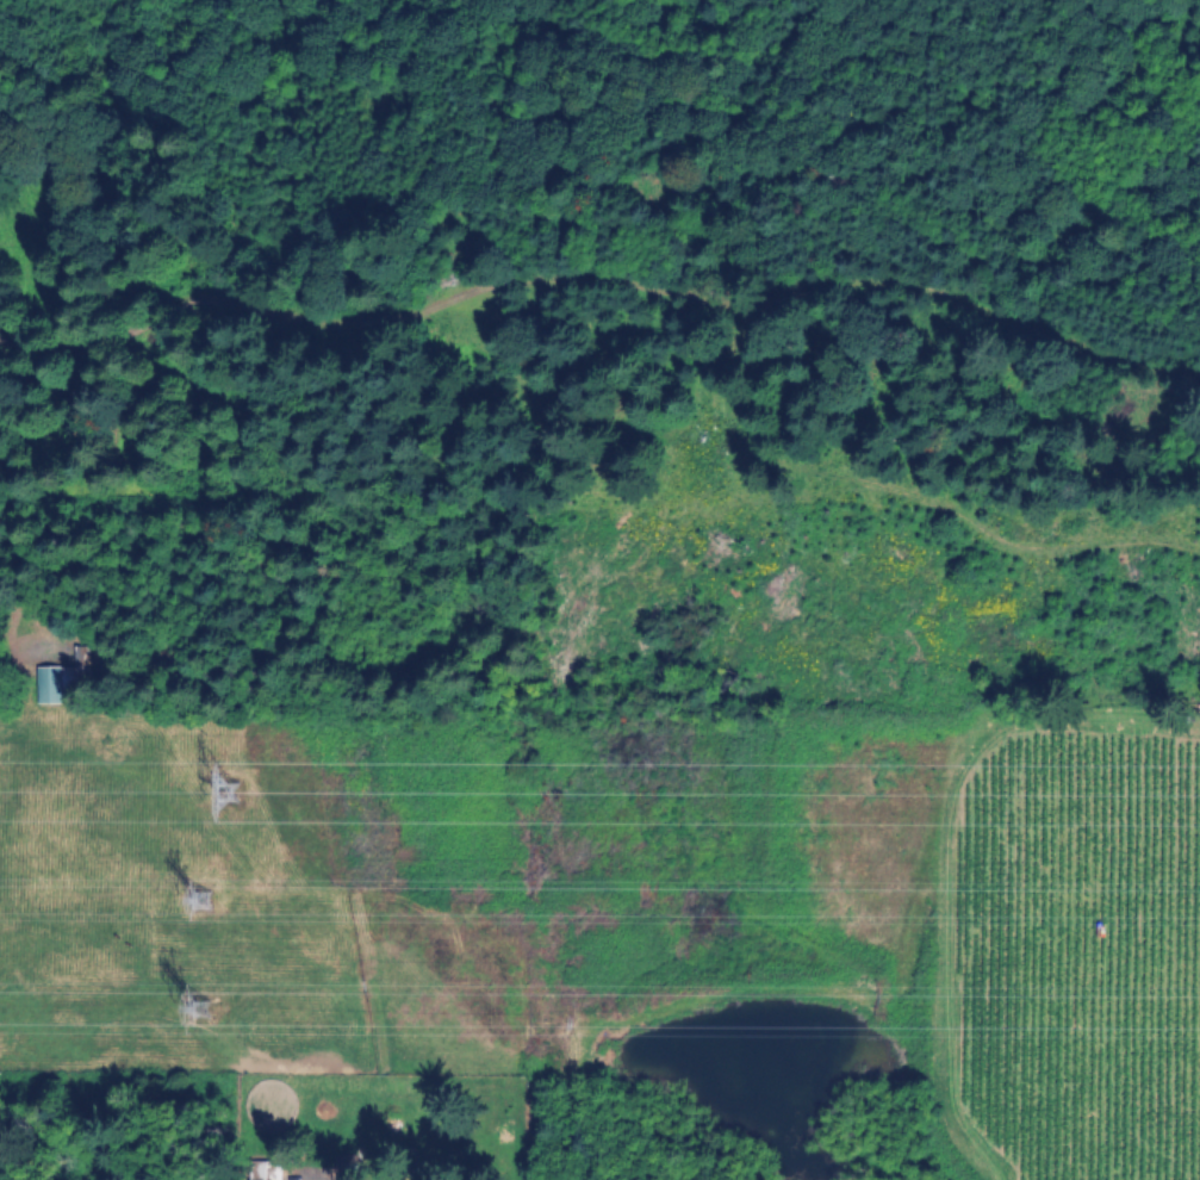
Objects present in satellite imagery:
building: (56, 682)
power tower: (229, 794)
power tower: (200, 903)
power tower: (193, 1010)
building: (350, 1167)

